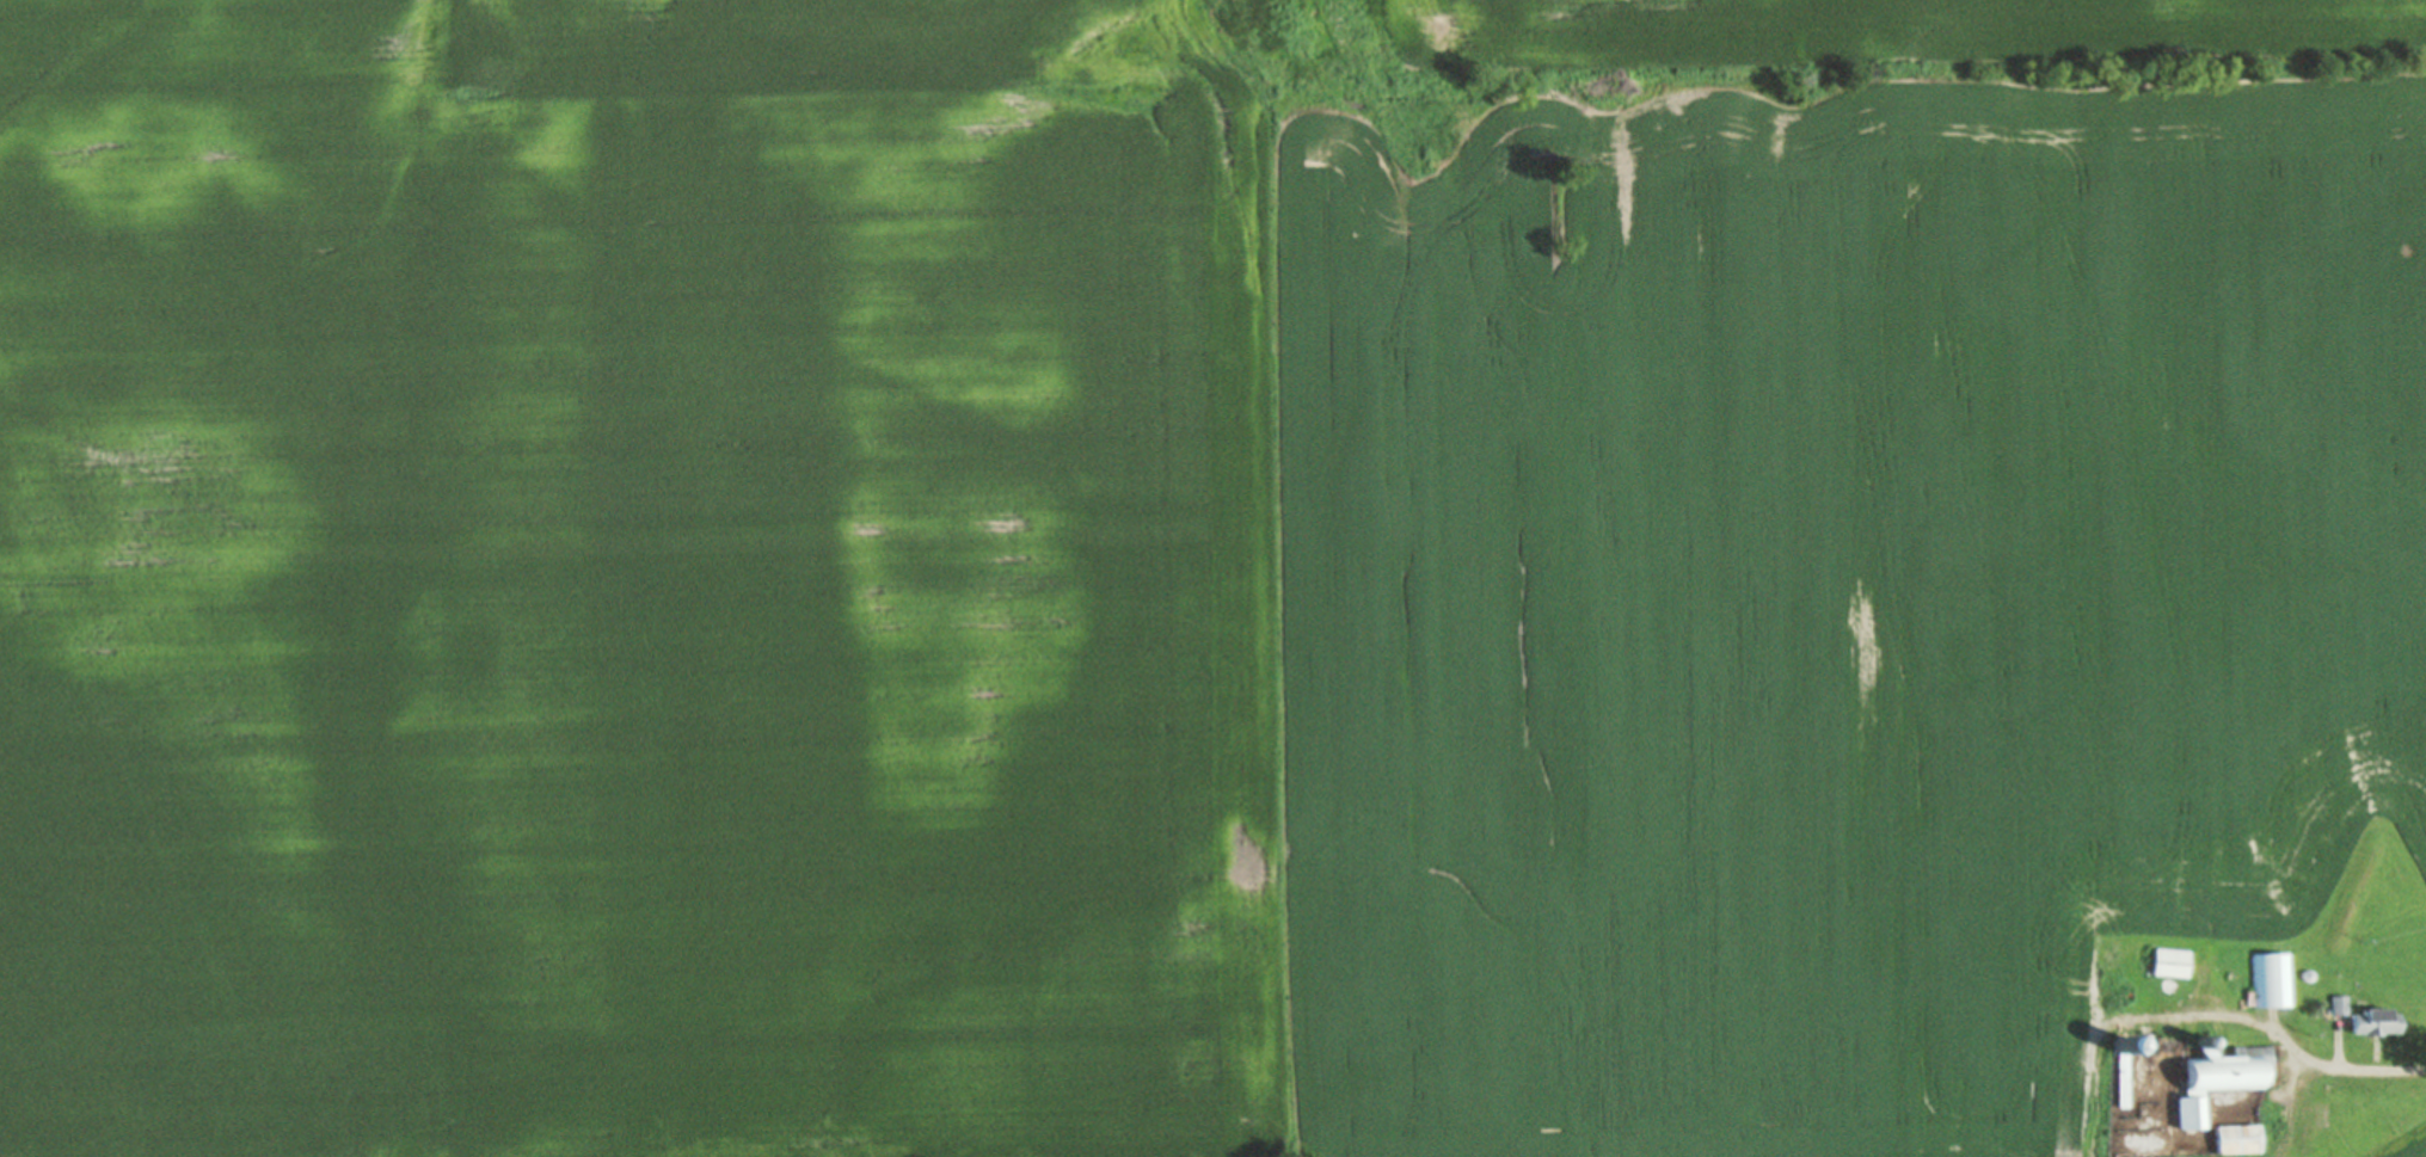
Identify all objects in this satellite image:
building: (2170, 962)
building: (2272, 980)
building: (2340, 1004)
road: (2200, 1011)
building: (2376, 1021)
road: (2365, 1067)
building: (2219, 1077)
building: (2238, 1138)

